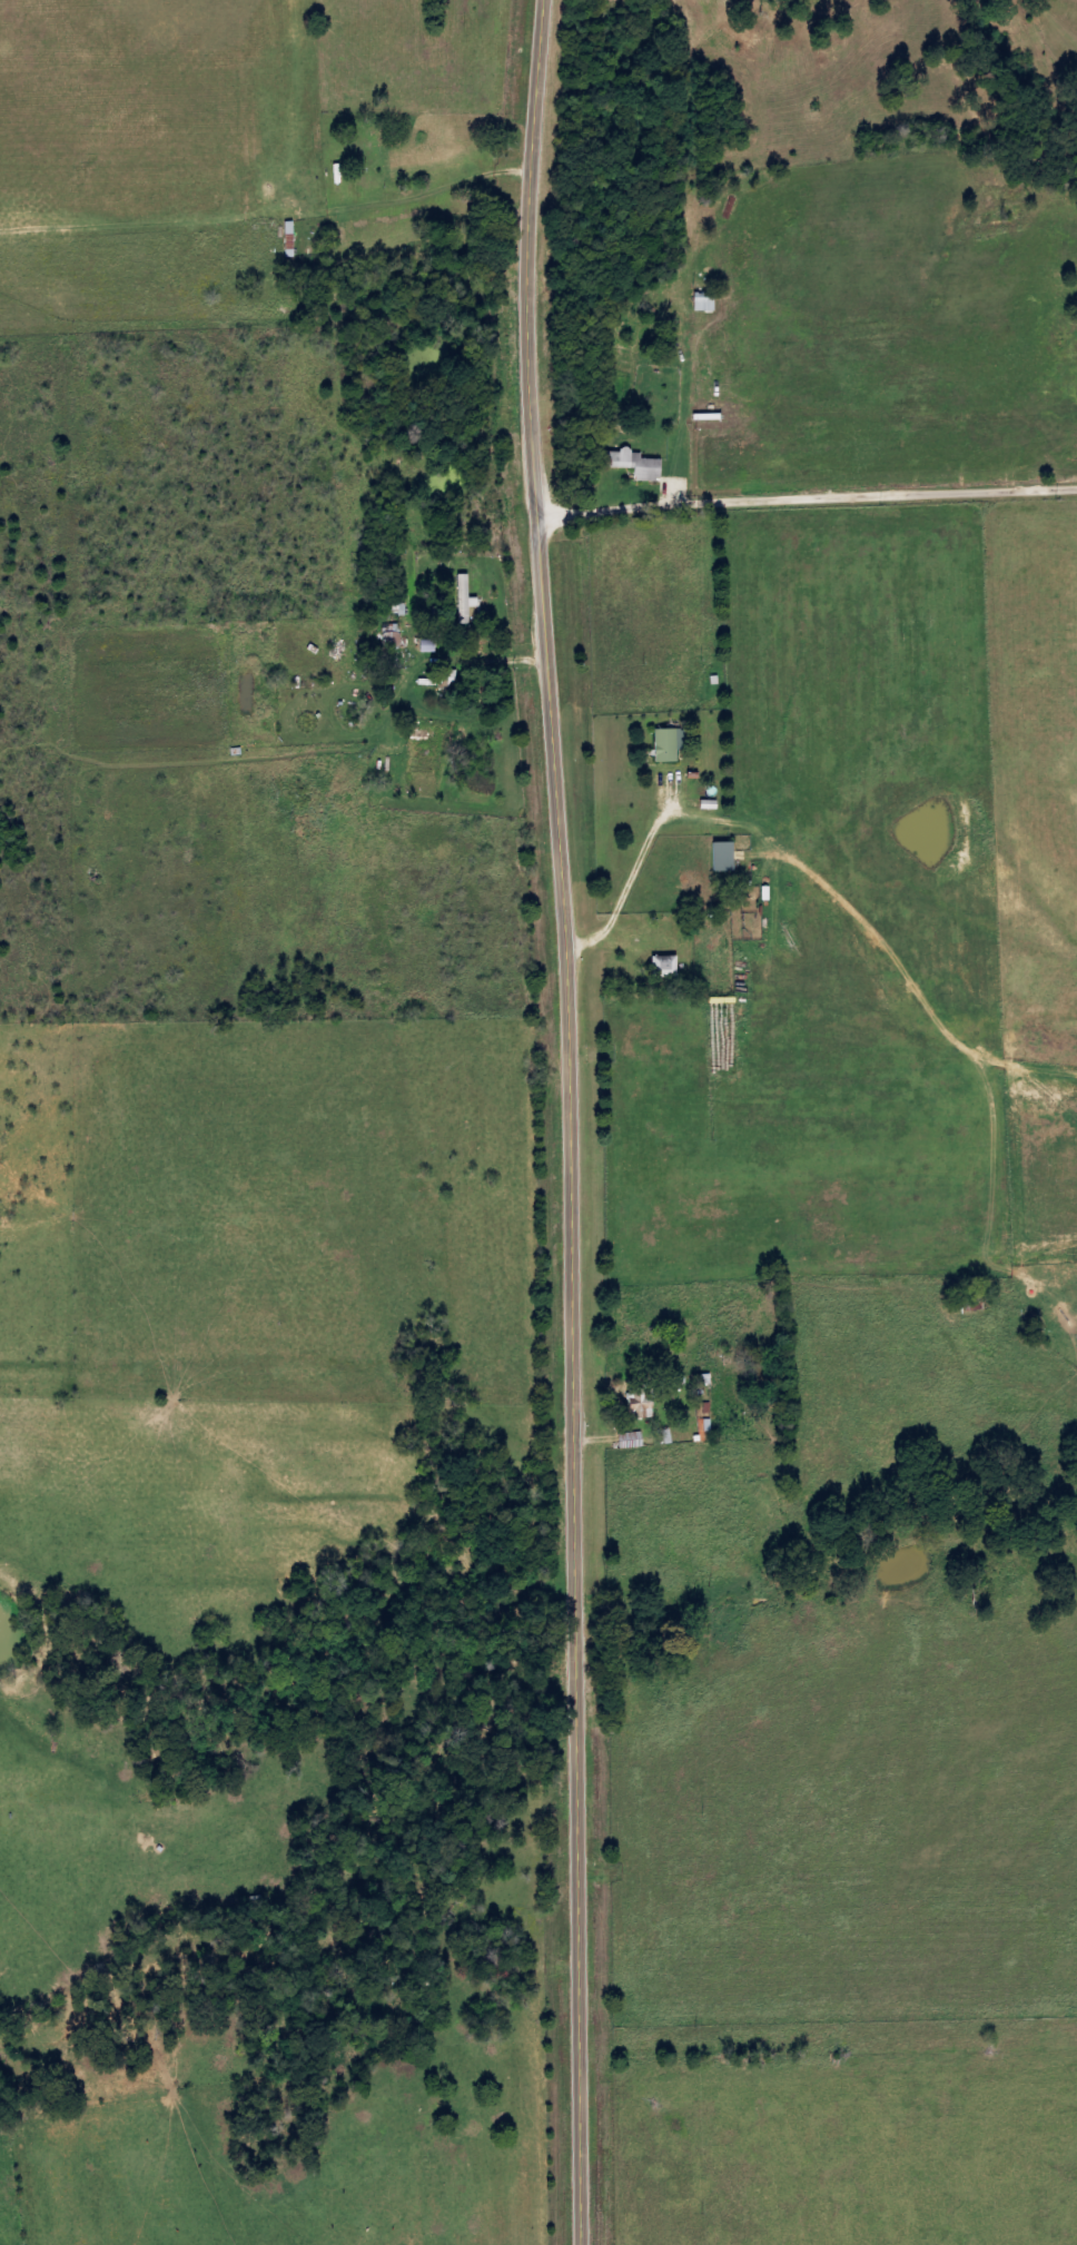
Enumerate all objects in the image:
building: (643, 465)
road: (789, 471)
building: (473, 601)
building: (398, 637)
building: (436, 647)
building: (675, 746)
building: (724, 857)
road: (571, 1121)
building: (642, 1406)
building: (669, 1437)

